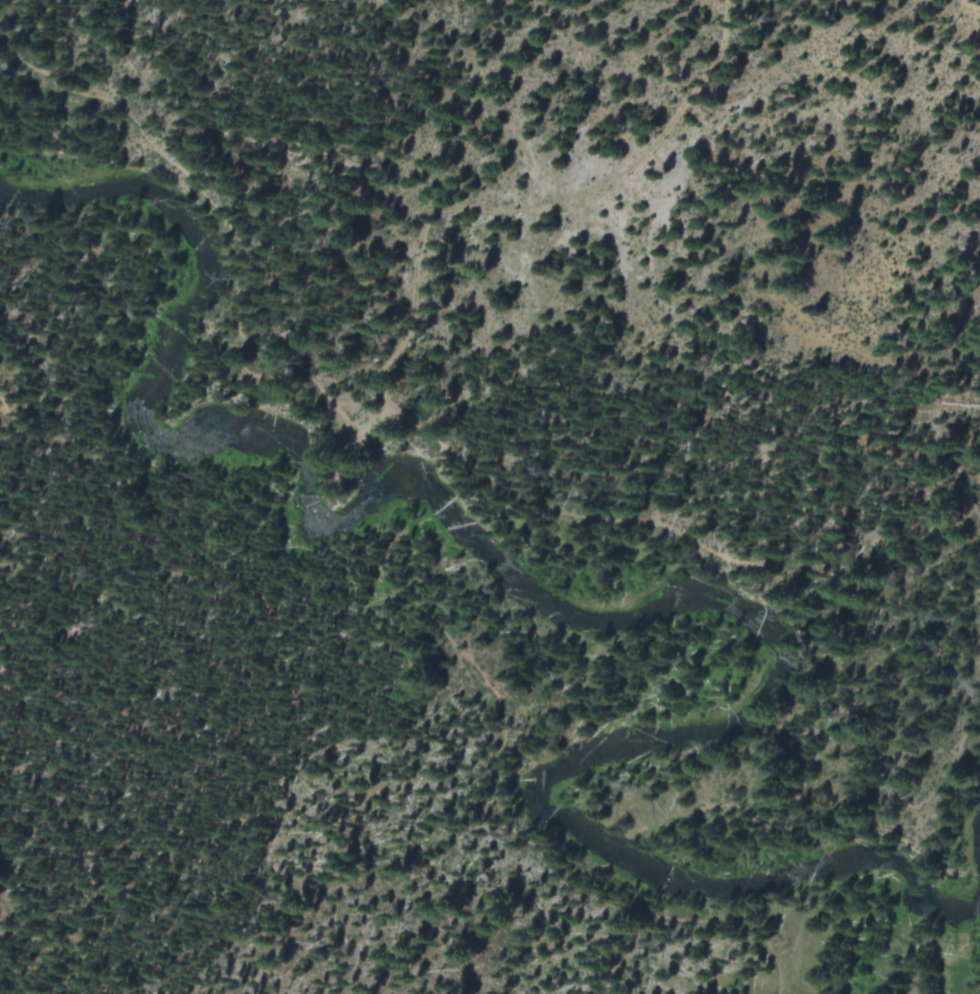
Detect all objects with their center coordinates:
river: (618, 610)
road: (445, 637)

